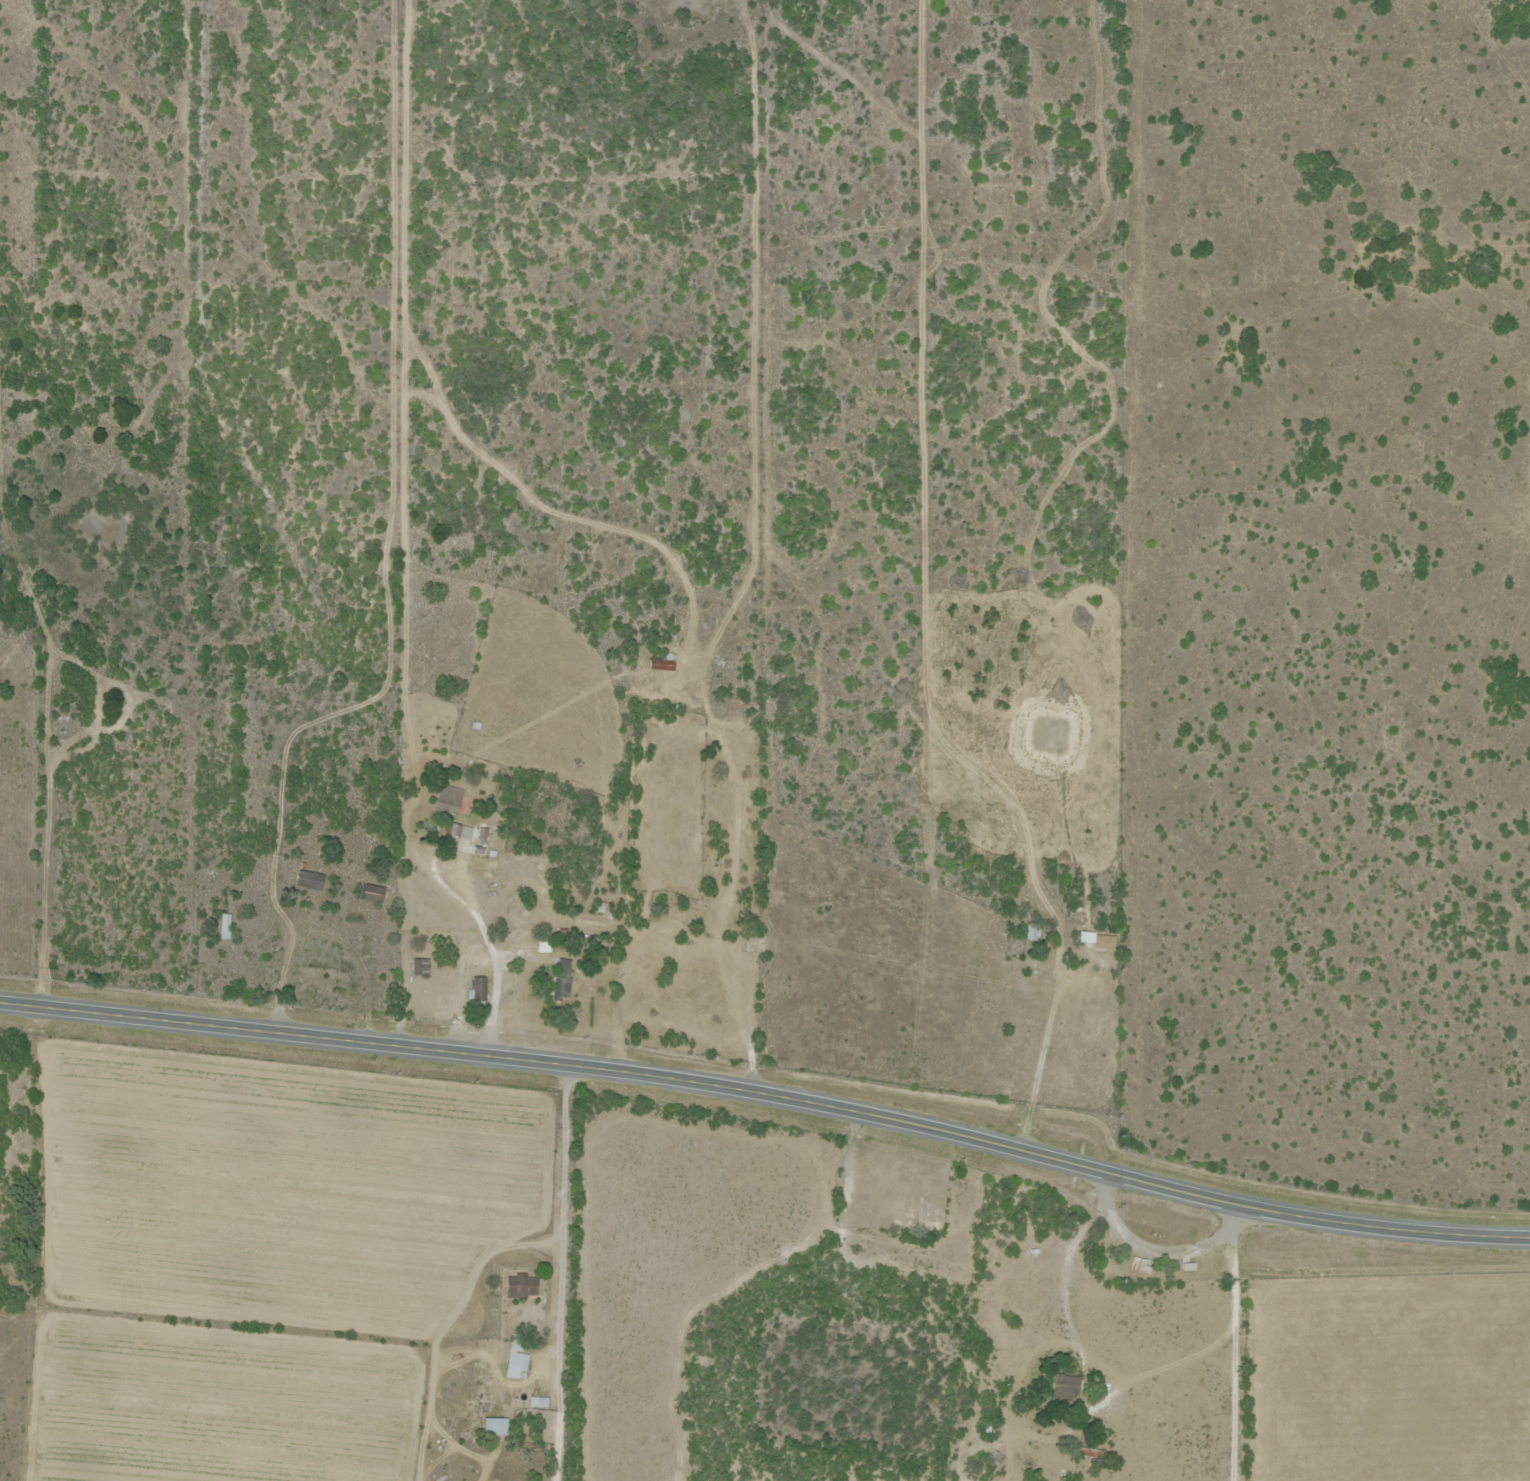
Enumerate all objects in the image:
building: (661, 663)
building: (446, 804)
building: (307, 881)
building: (370, 894)
building: (601, 907)
building: (223, 926)
building: (1030, 931)
building: (1102, 942)
building: (560, 979)
building: (476, 989)
road: (767, 1105)
building: (1136, 1264)
road: (478, 1270)
building: (519, 1285)
building: (515, 1357)
building: (1063, 1386)
building: (536, 1402)
building: (493, 1426)

